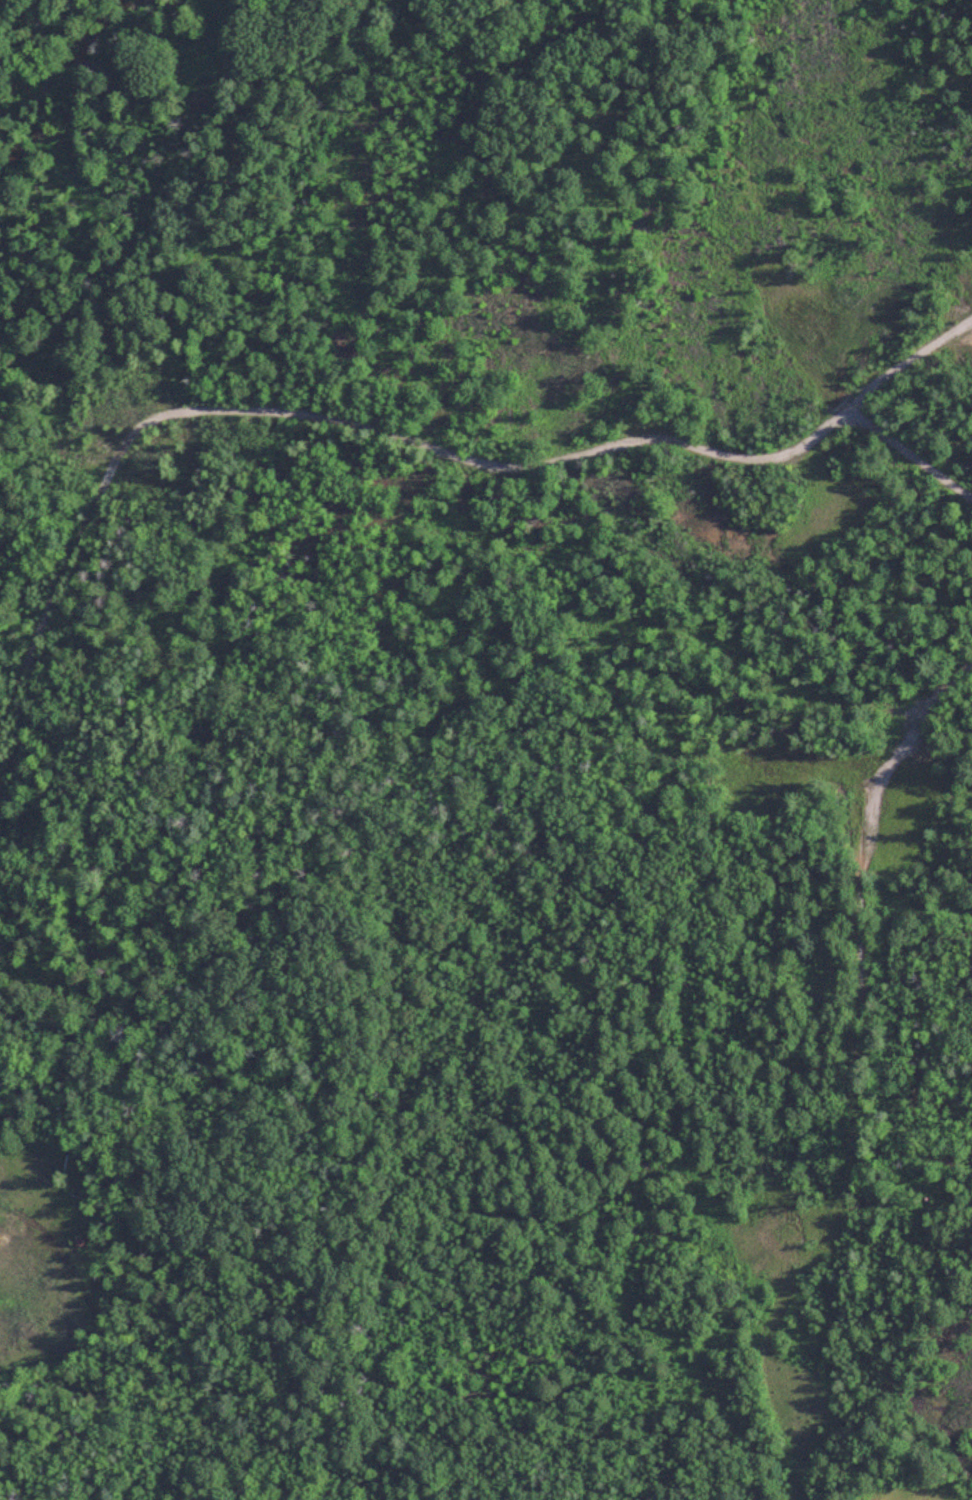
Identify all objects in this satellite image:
road: (425, 446)

